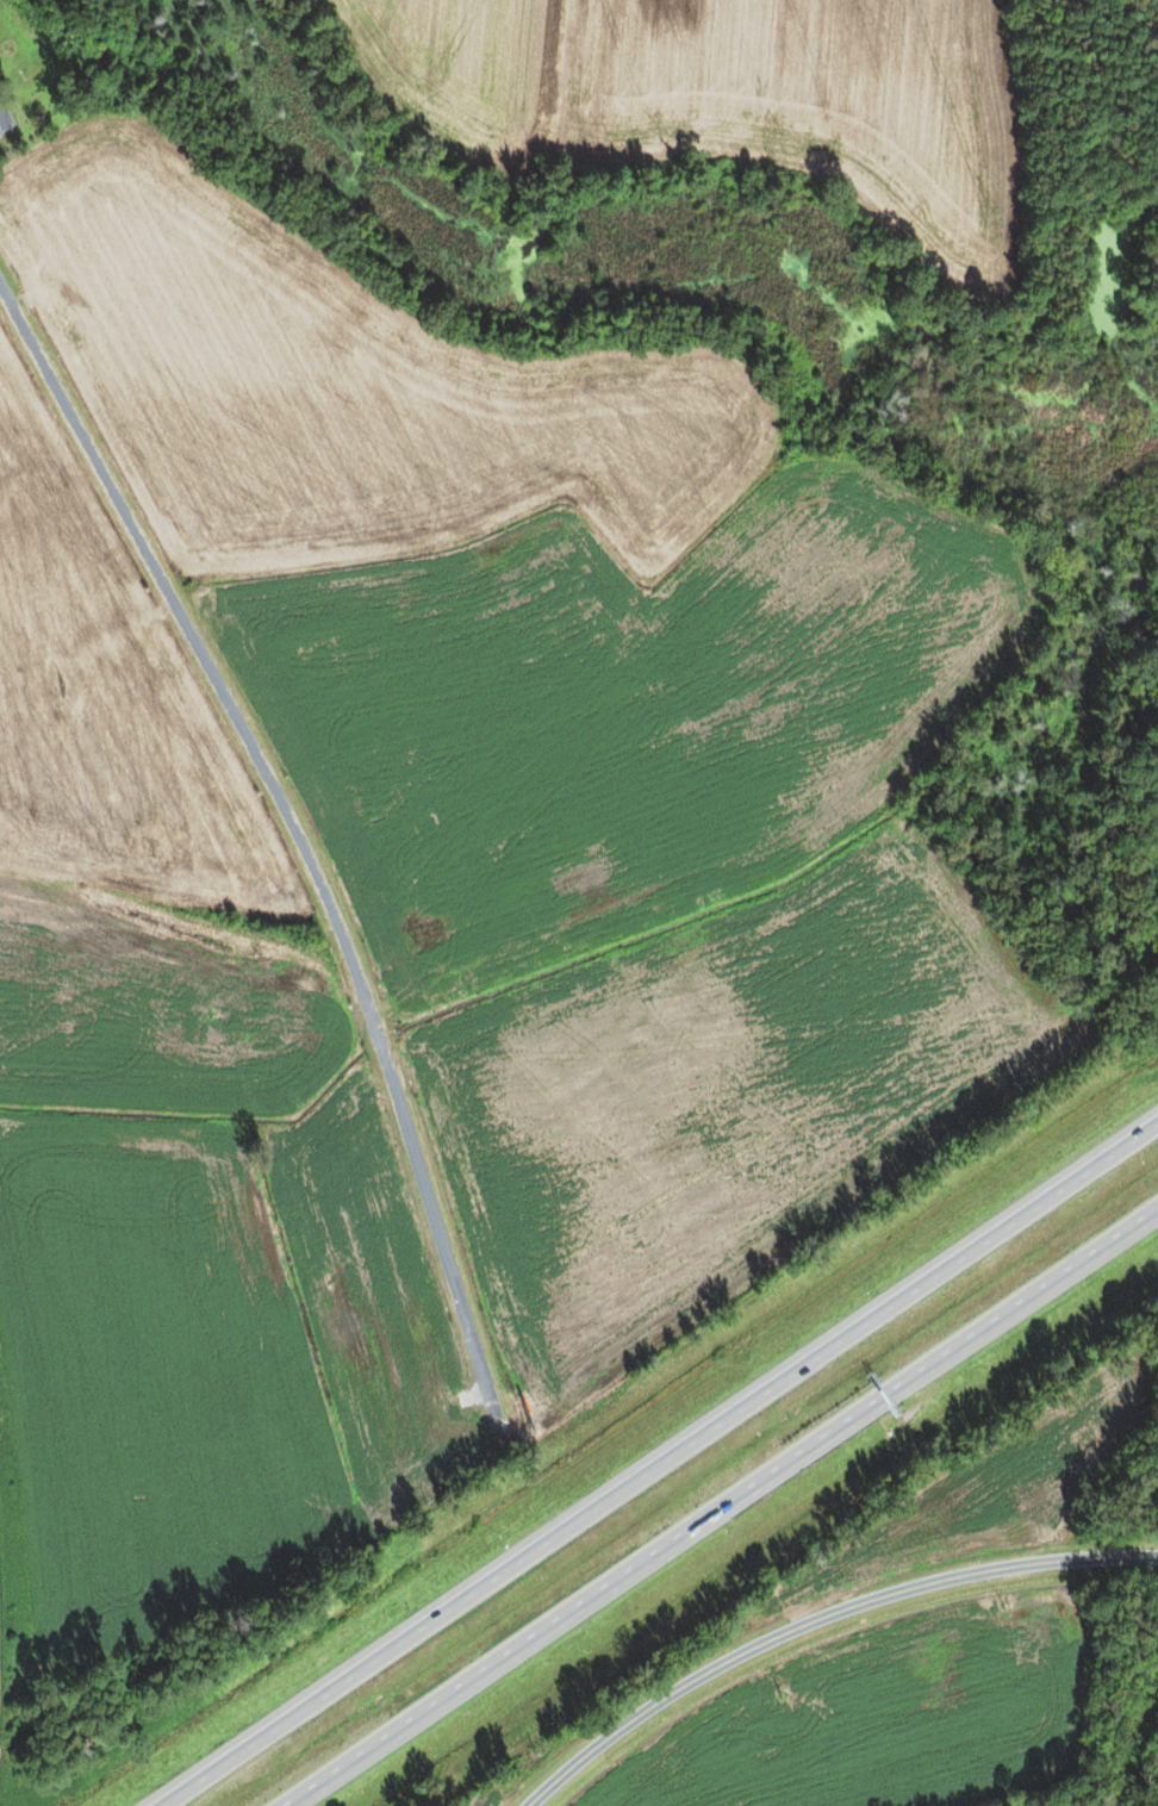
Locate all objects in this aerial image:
building: (6, 63)
building: (4, 122)
road: (292, 829)
road: (674, 1468)
road: (729, 1513)
road: (818, 1618)

